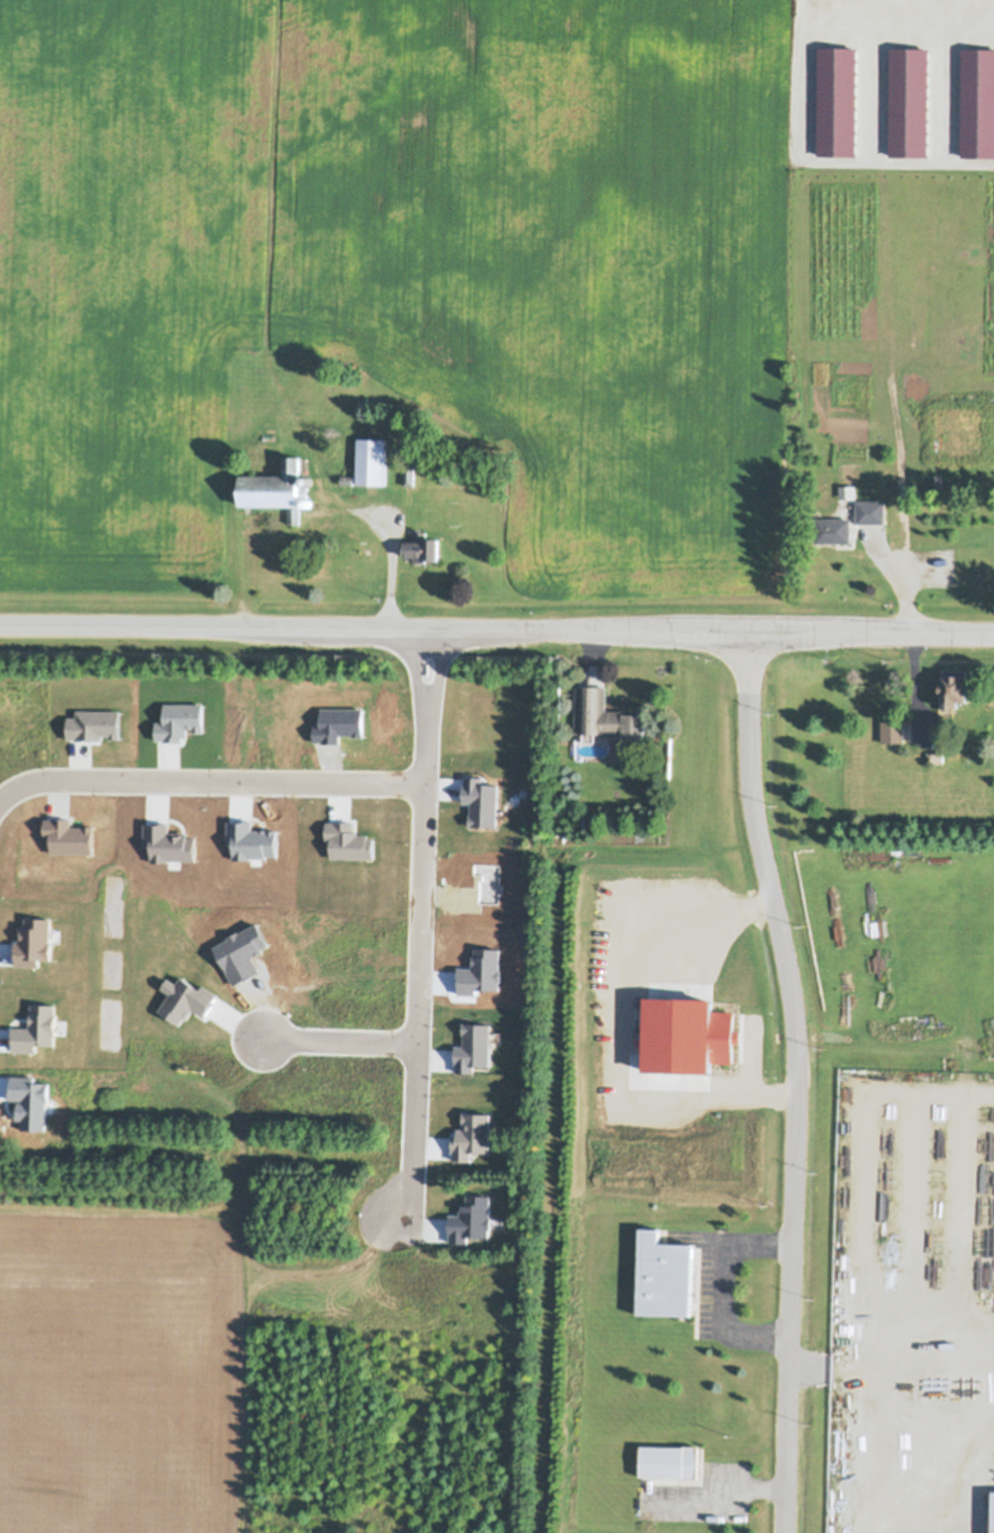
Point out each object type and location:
road: (989, 18)
building: (371, 459)
building: (408, 474)
building: (346, 478)
building: (307, 479)
building: (276, 486)
building: (848, 489)
building: (306, 501)
building: (870, 509)
building: (897, 524)
building: (833, 528)
building: (422, 545)
road: (891, 579)
road: (255, 628)
road: (752, 631)
building: (952, 686)
building: (602, 714)
building: (891, 728)
building: (936, 756)
road: (211, 782)
building: (603, 833)
road: (424, 925)
road: (346, 1040)
road: (793, 1079)
building: (663, 1275)
building: (669, 1460)
road: (711, 1502)
building: (992, 1529)

